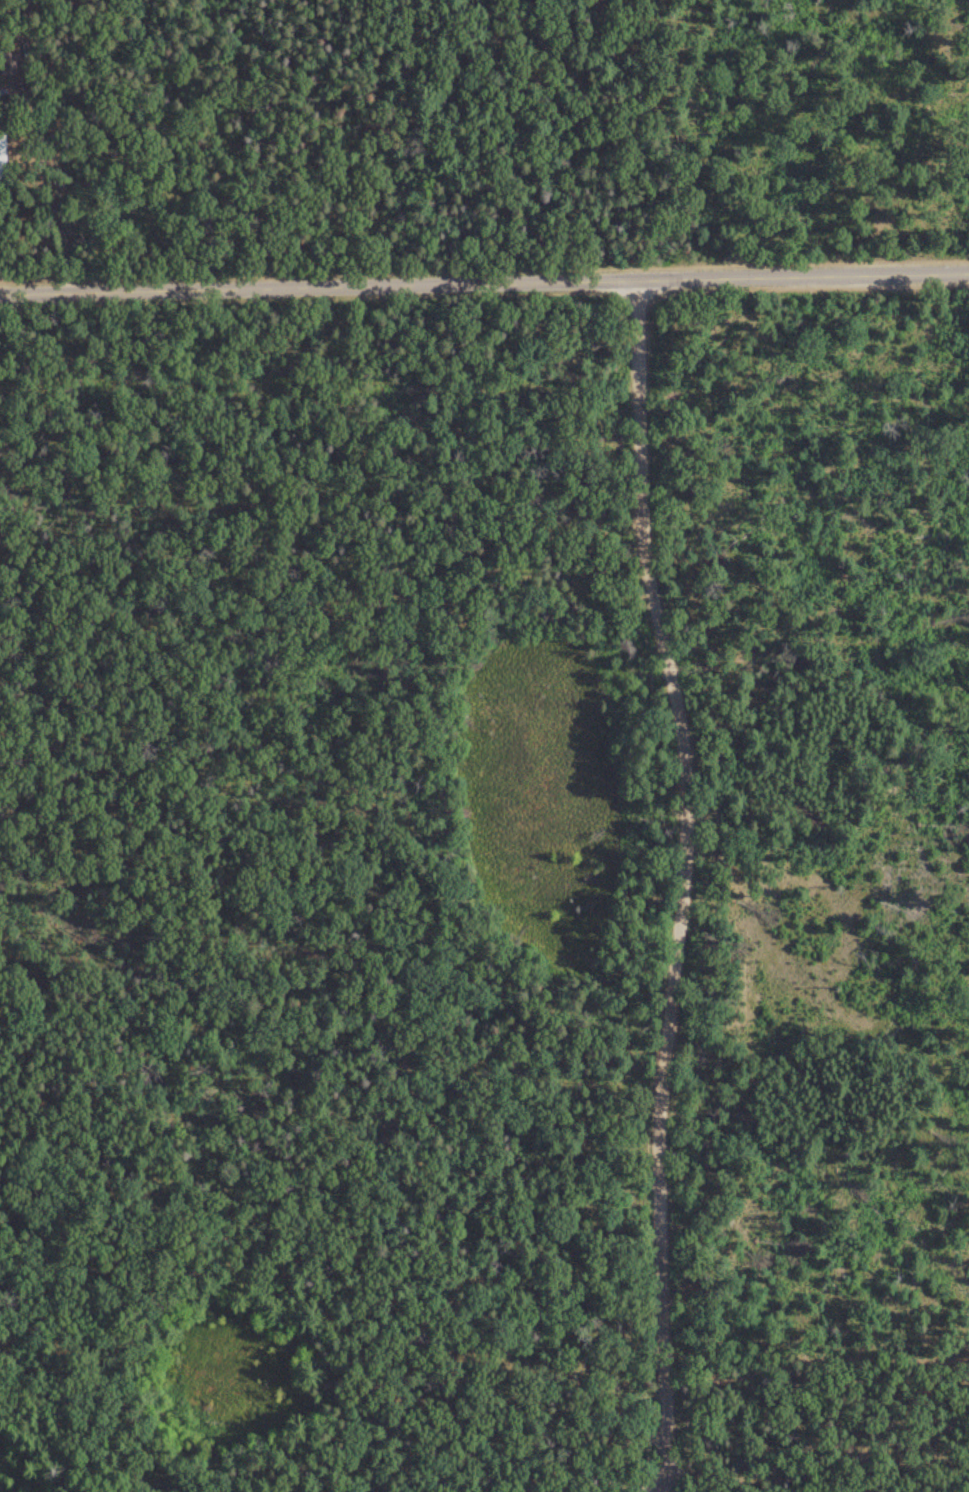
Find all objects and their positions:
road: (396, 142)
road: (149, 145)
road: (484, 282)
road: (827, 796)
road: (683, 878)
road: (815, 1443)
road: (519, 1444)
road: (655, 1487)

